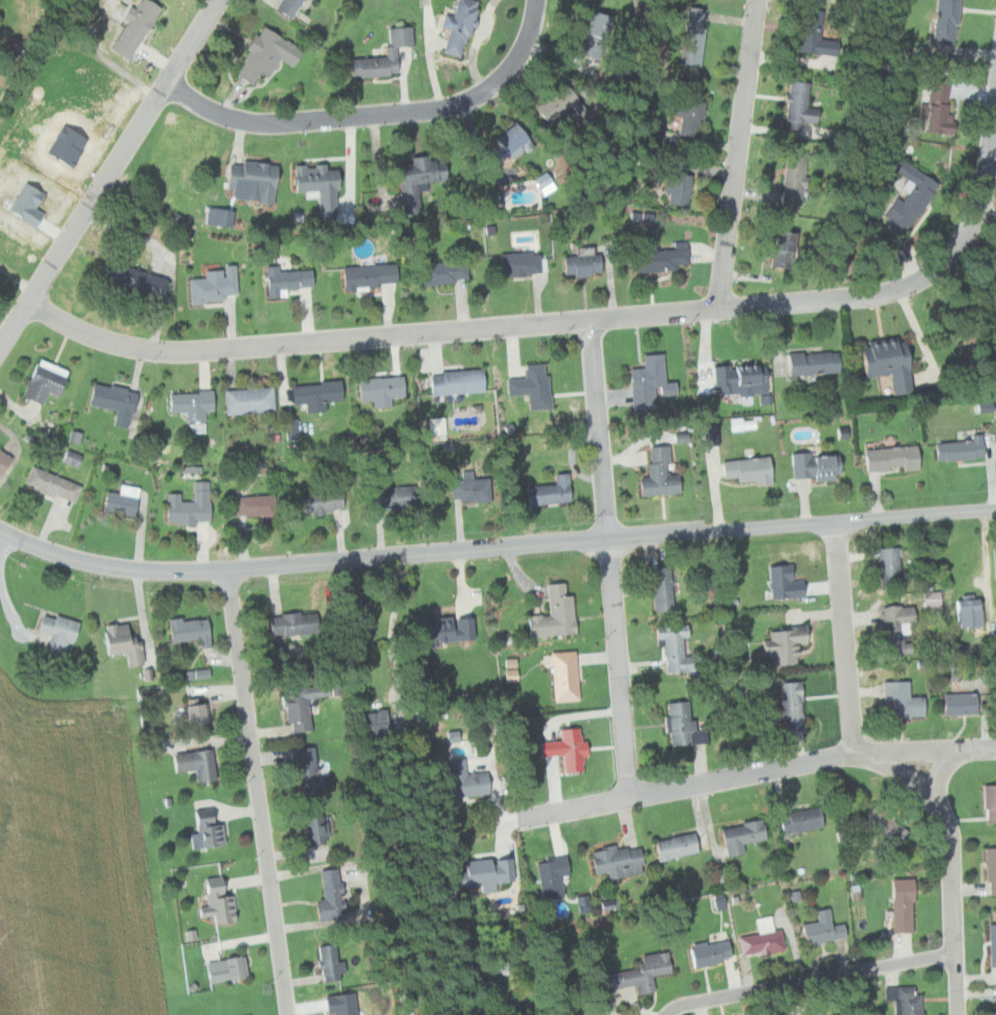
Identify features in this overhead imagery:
building: (295, 7)
building: (946, 21)
building: (137, 26)
building: (463, 27)
building: (597, 33)
building: (814, 34)
building: (693, 36)
building: (395, 51)
building: (825, 51)
building: (272, 54)
building: (567, 106)
building: (801, 106)
building: (940, 109)
road: (375, 116)
building: (691, 117)
building: (53, 123)
building: (515, 141)
road: (737, 155)
building: (21, 167)
road: (107, 174)
building: (419, 176)
building: (255, 178)
building: (794, 181)
building: (319, 184)
building: (679, 187)
building: (910, 199)
building: (26, 200)
building: (228, 217)
building: (986, 241)
building: (784, 248)
building: (663, 255)
building: (584, 261)
building: (523, 262)
building: (445, 271)
building: (372, 275)
building: (134, 278)
building: (290, 278)
building: (216, 284)
road: (564, 321)
building: (818, 362)
building: (894, 363)
building: (746, 380)
building: (49, 381)
building: (462, 381)
building: (653, 382)
building: (542, 387)
building: (385, 390)
building: (320, 394)
building: (253, 400)
building: (119, 402)
building: (196, 404)
building: (745, 423)
building: (78, 436)
building: (685, 437)
building: (714, 440)
building: (965, 449)
building: (76, 458)
building: (897, 458)
building: (6, 460)
building: (819, 466)
building: (195, 468)
building: (754, 470)
building: (664, 473)
building: (56, 484)
building: (475, 487)
building: (555, 491)
building: (405, 496)
building: (126, 500)
building: (326, 501)
building: (259, 505)
building: (193, 506)
road: (495, 546)
road: (610, 558)
building: (893, 566)
building: (789, 583)
building: (666, 589)
building: (934, 599)
building: (972, 613)
building: (559, 614)
building: (298, 624)
building: (900, 628)
building: (455, 629)
building: (63, 631)
building: (195, 631)
road: (844, 639)
road: (393, 641)
building: (126, 643)
building: (789, 644)
building: (680, 649)
building: (200, 673)
building: (515, 675)
building: (567, 675)
building: (899, 698)
building: (948, 703)
building: (306, 704)
building: (788, 705)
building: (201, 710)
building: (382, 722)
building: (679, 724)
building: (450, 734)
building: (562, 748)
building: (201, 762)
building: (313, 771)
road: (937, 772)
road: (756, 773)
building: (460, 779)
road: (255, 791)
building: (988, 801)
building: (796, 820)
building: (880, 827)
building: (210, 829)
building: (321, 829)
building: (739, 835)
building: (672, 845)
building: (614, 860)
building: (990, 869)
building: (480, 871)
road: (952, 871)
building: (549, 874)
building: (334, 895)
building: (222, 899)
building: (582, 902)
building: (899, 904)
building: (820, 928)
building: (760, 937)
building: (991, 943)
building: (706, 951)
building: (333, 962)
building: (231, 968)
building: (638, 972)
road: (815, 982)
building: (901, 999)
building: (993, 1010)

